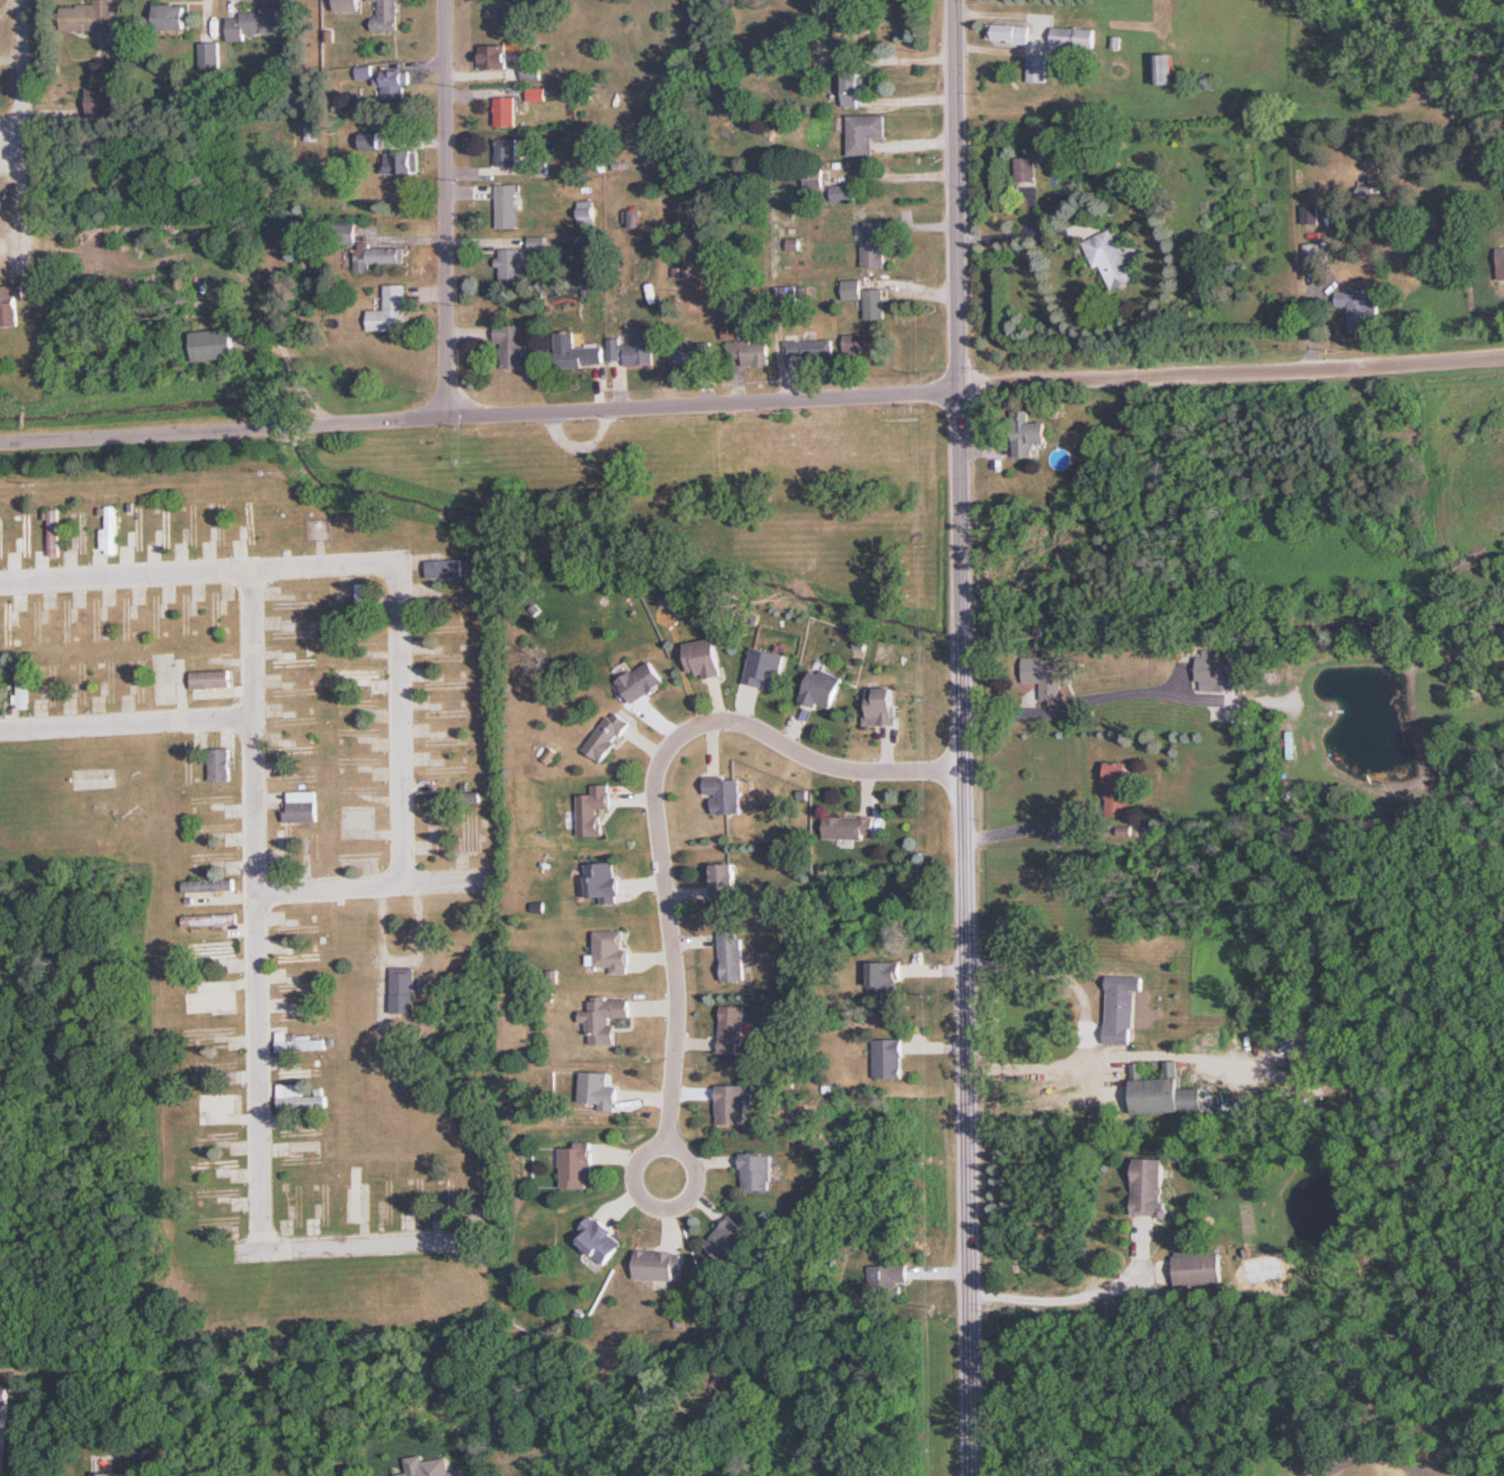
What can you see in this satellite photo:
building: (348, 5)
building: (171, 15)
building: (388, 15)
building: (91, 16)
building: (253, 23)
building: (1009, 31)
building: (864, 33)
building: (1075, 37)
building: (209, 55)
building: (503, 56)
building: (1037, 64)
building: (1165, 68)
building: (532, 70)
building: (388, 79)
building: (855, 81)
building: (104, 100)
building: (506, 110)
road: (25, 123)
building: (865, 133)
building: (372, 140)
building: (508, 151)
building: (403, 160)
building: (1025, 169)
building: (1370, 189)
building: (844, 192)
road: (958, 195)
building: (508, 205)
road: (446, 208)
building: (587, 212)
building: (1310, 213)
road: (1026, 228)
building: (874, 243)
building: (379, 256)
building: (1311, 256)
building: (1501, 256)
building: (1110, 257)
building: (510, 265)
building: (866, 297)
building: (10, 306)
building: (1361, 308)
building: (392, 310)
building: (512, 344)
building: (214, 345)
building: (633, 348)
building: (806, 350)
building: (576, 352)
building: (749, 353)
building: (693, 354)
road: (1232, 369)
road: (480, 415)
building: (1028, 434)
building: (252, 521)
building: (168, 528)
building: (111, 531)
building: (55, 532)
building: (28, 533)
building: (2, 538)
building: (444, 568)
road: (199, 574)
building: (364, 600)
building: (8, 625)
building: (293, 631)
building: (704, 658)
building: (297, 662)
building: (767, 667)
building: (1217, 669)
building: (1051, 673)
building: (358, 674)
building: (212, 679)
building: (644, 681)
building: (824, 688)
building: (24, 689)
building: (883, 705)
road: (126, 724)
road: (401, 728)
building: (609, 735)
building: (447, 741)
building: (295, 749)
building: (221, 764)
building: (92, 778)
building: (1120, 780)
road: (657, 787)
building: (725, 795)
building: (437, 798)
building: (303, 806)
building: (595, 810)
building: (358, 824)
building: (849, 827)
building: (605, 882)
building: (726, 883)
road: (445, 885)
building: (211, 886)
road: (328, 890)
road: (255, 907)
building: (211, 920)
road: (962, 933)
building: (213, 950)
building: (613, 952)
building: (303, 957)
building: (733, 958)
building: (887, 981)
building: (403, 990)
building: (212, 998)
building: (1122, 1010)
building: (606, 1019)
road: (1085, 1020)
building: (733, 1030)
building: (302, 1042)
building: (890, 1058)
building: (292, 1071)
building: (598, 1091)
building: (1168, 1096)
building: (298, 1098)
building: (217, 1104)
building: (733, 1105)
building: (298, 1132)
road: (666, 1144)
building: (217, 1166)
building: (577, 1166)
building: (757, 1172)
building: (1153, 1187)
building: (356, 1194)
building: (600, 1239)
building: (729, 1240)
road: (369, 1244)
building: (659, 1265)
building: (1201, 1267)
building: (886, 1279)
road: (1077, 1296)
building: (4, 1393)
road: (1380, 1455)

